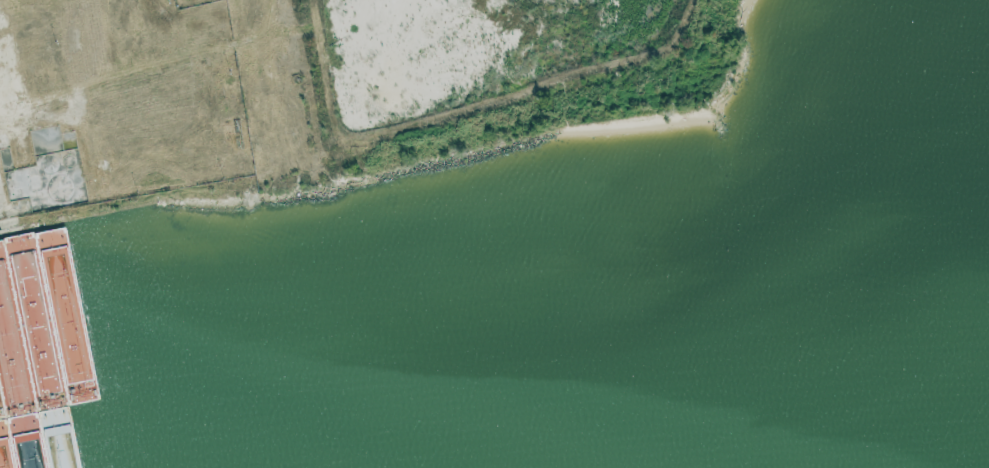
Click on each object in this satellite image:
road: (62, 218)
road: (2, 219)

